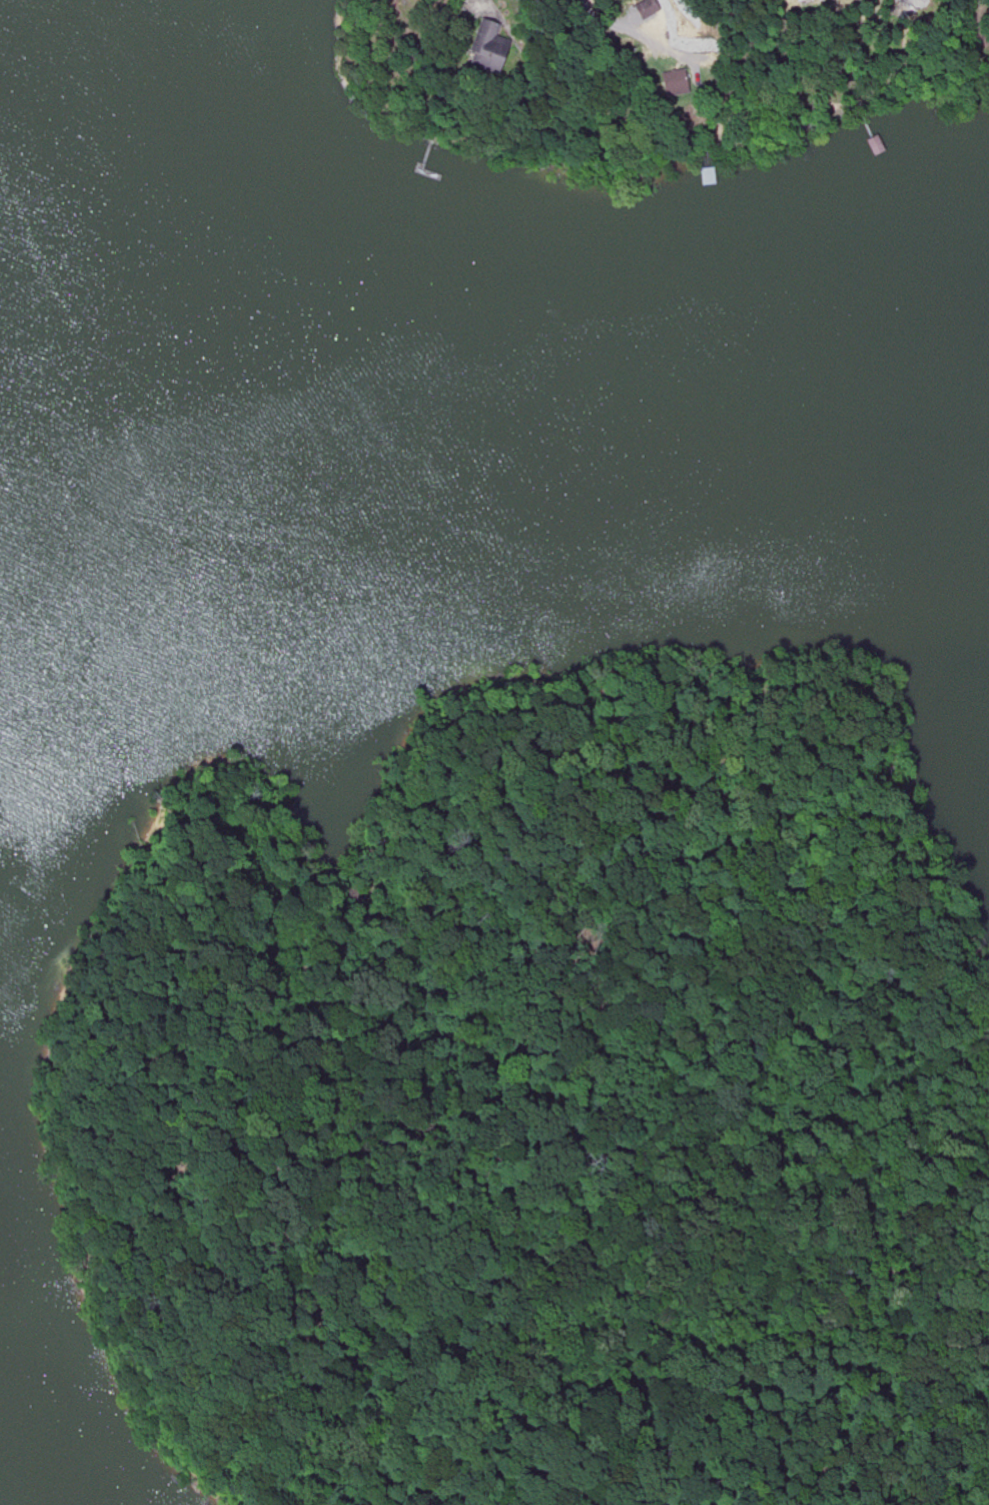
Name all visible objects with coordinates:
building: (680, 81)

